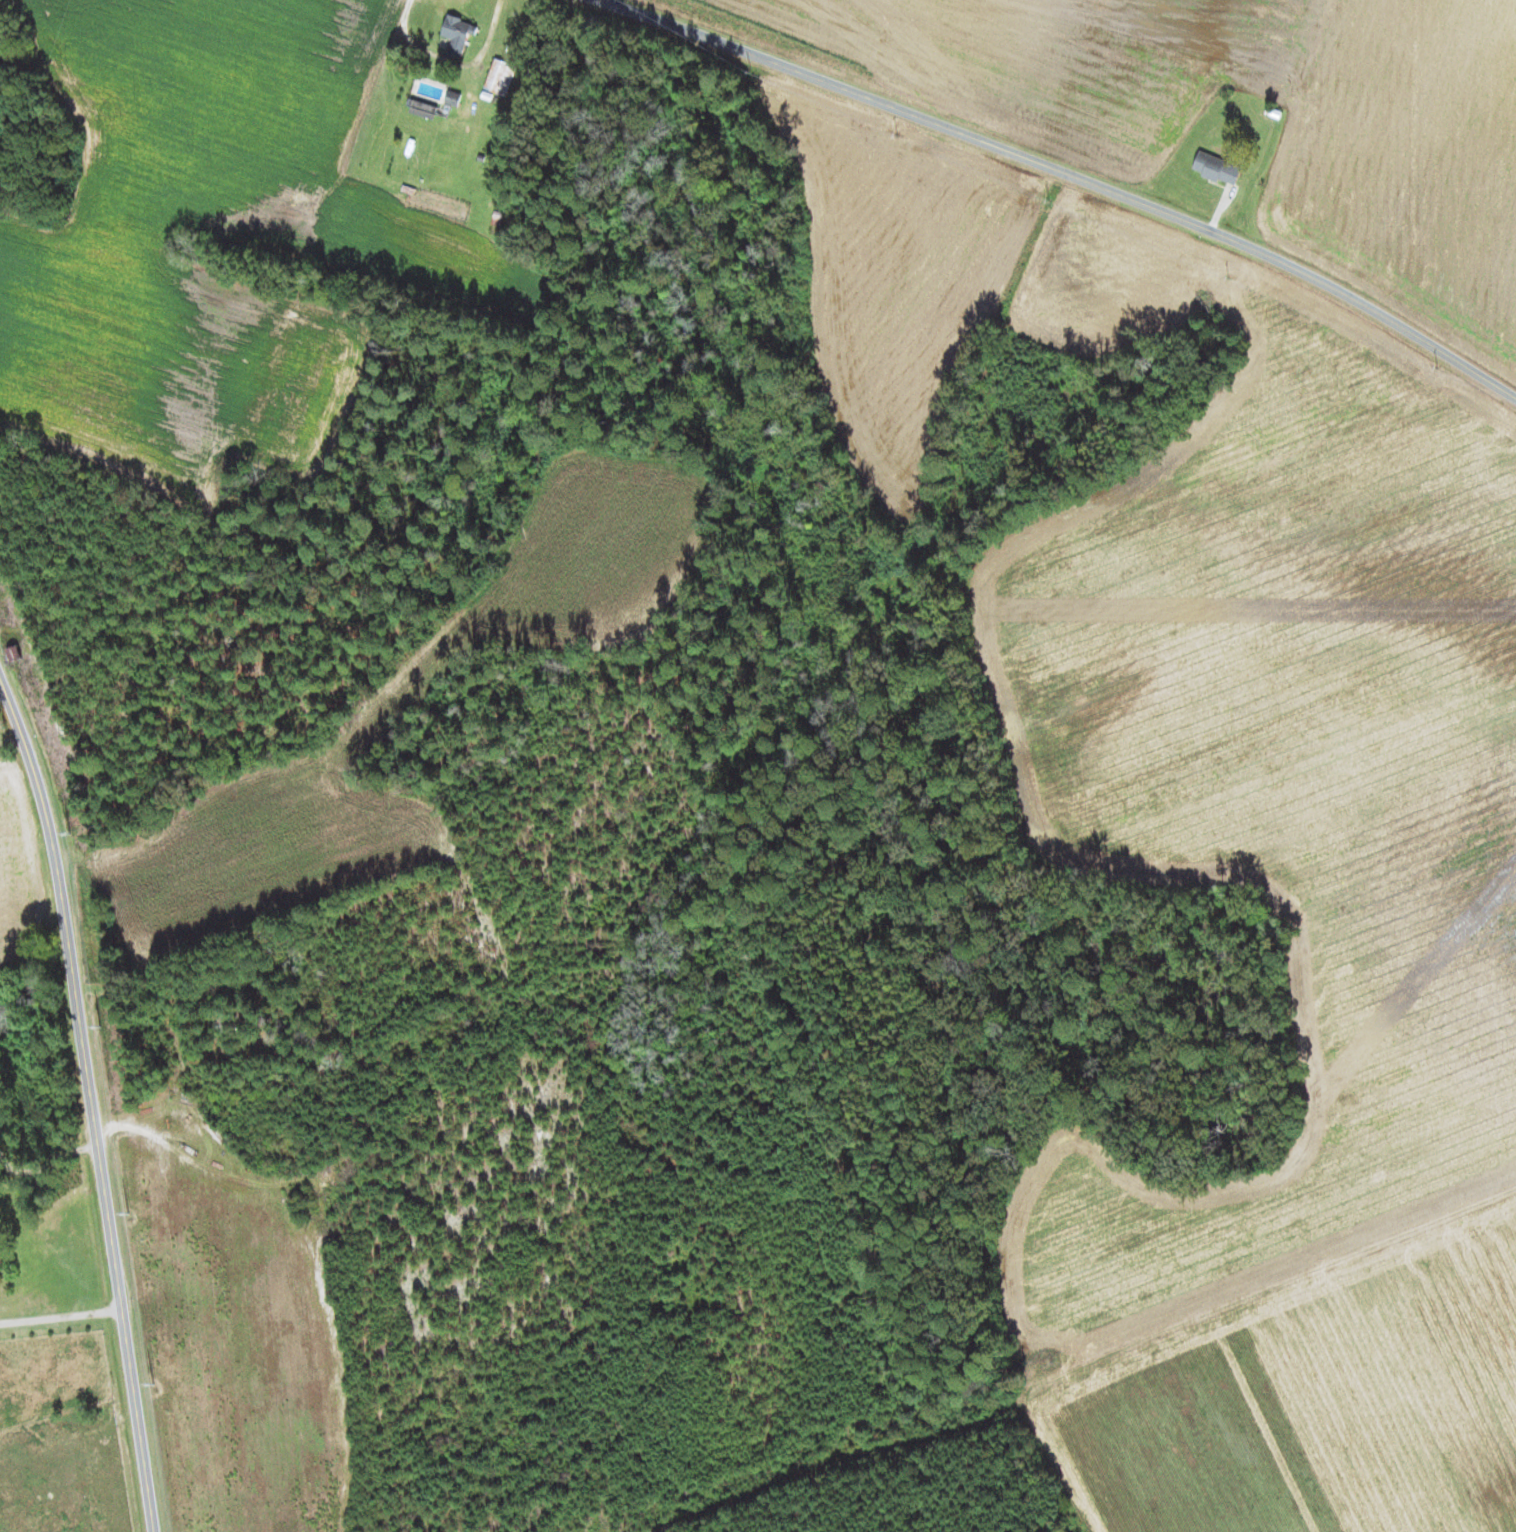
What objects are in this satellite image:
building: (458, 32)
building: (500, 77)
building: (452, 98)
building: (423, 109)
building: (1216, 168)
road: (1067, 174)
road: (93, 1098)
road: (46, 1164)
road: (1270, 1284)

